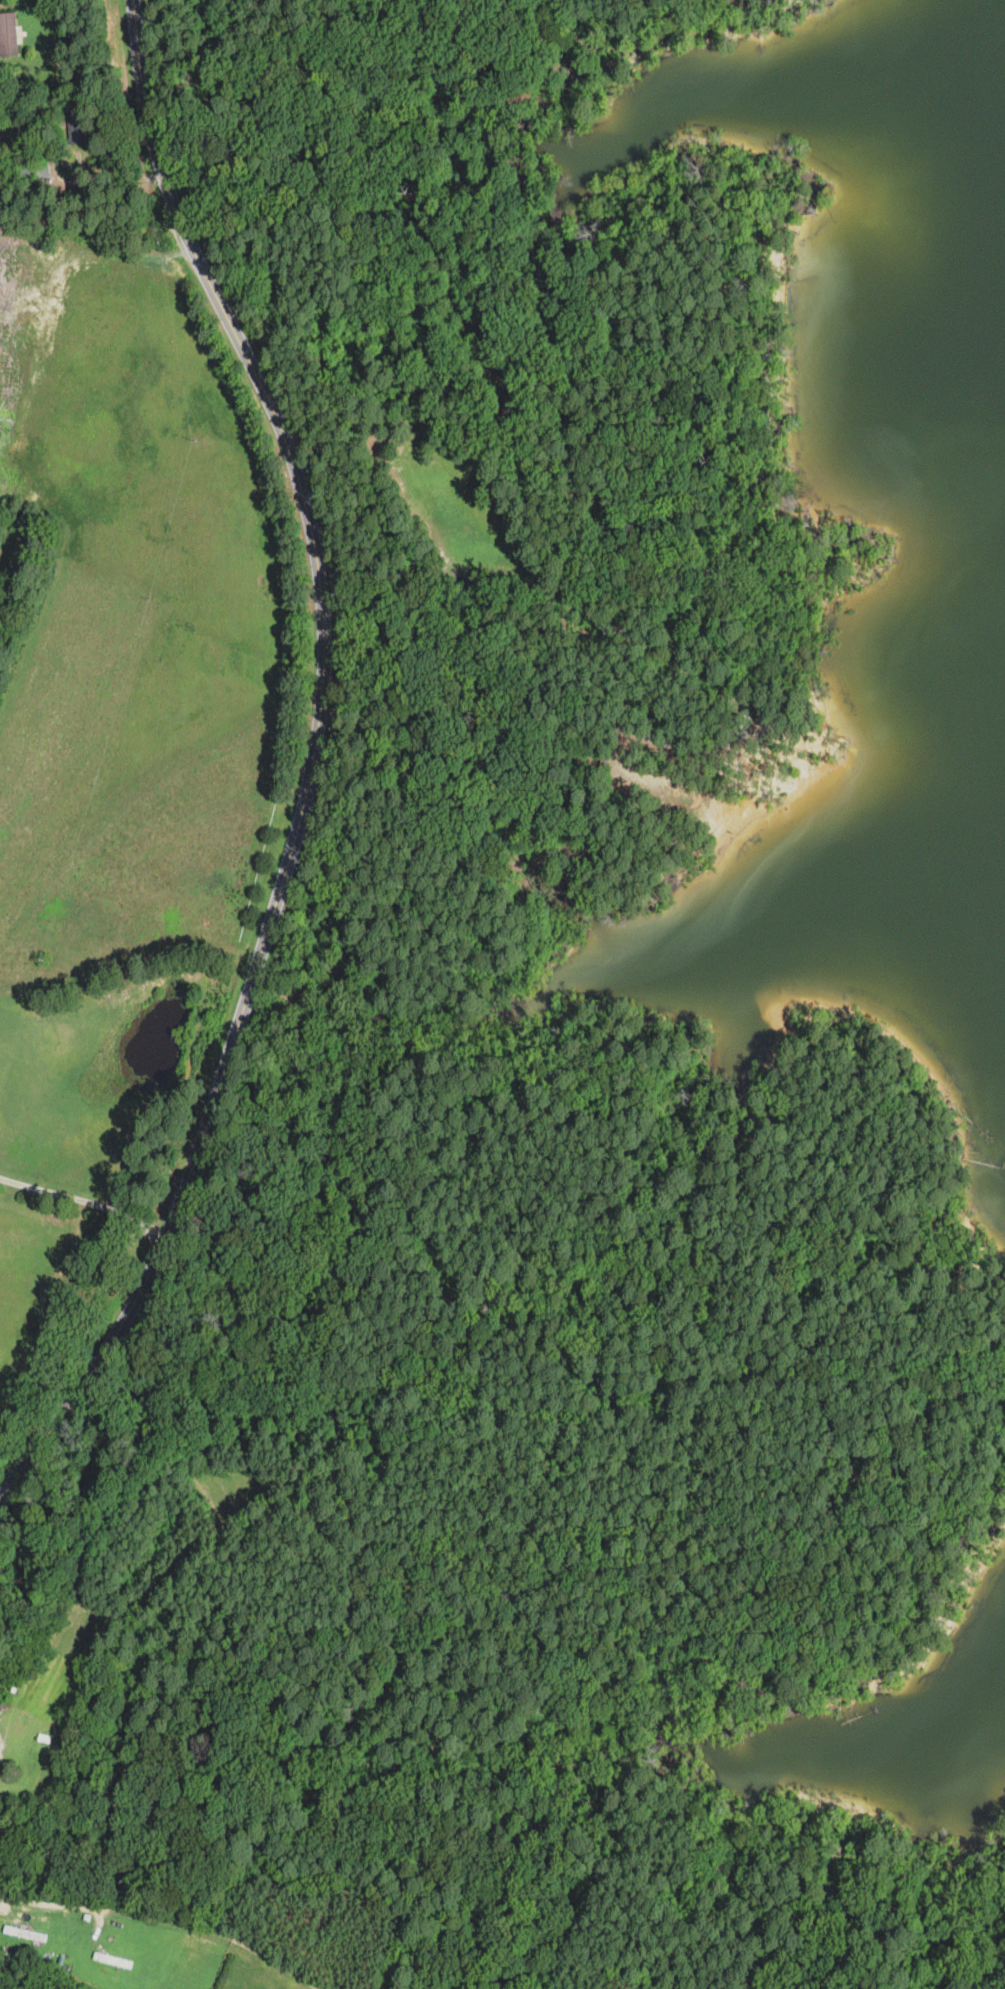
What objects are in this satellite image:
building: (8, 36)
building: (76, 127)
road: (305, 503)
park: (574, 1023)
road: (88, 1200)
road: (148, 1284)
road: (163, 1924)
building: (112, 1960)

